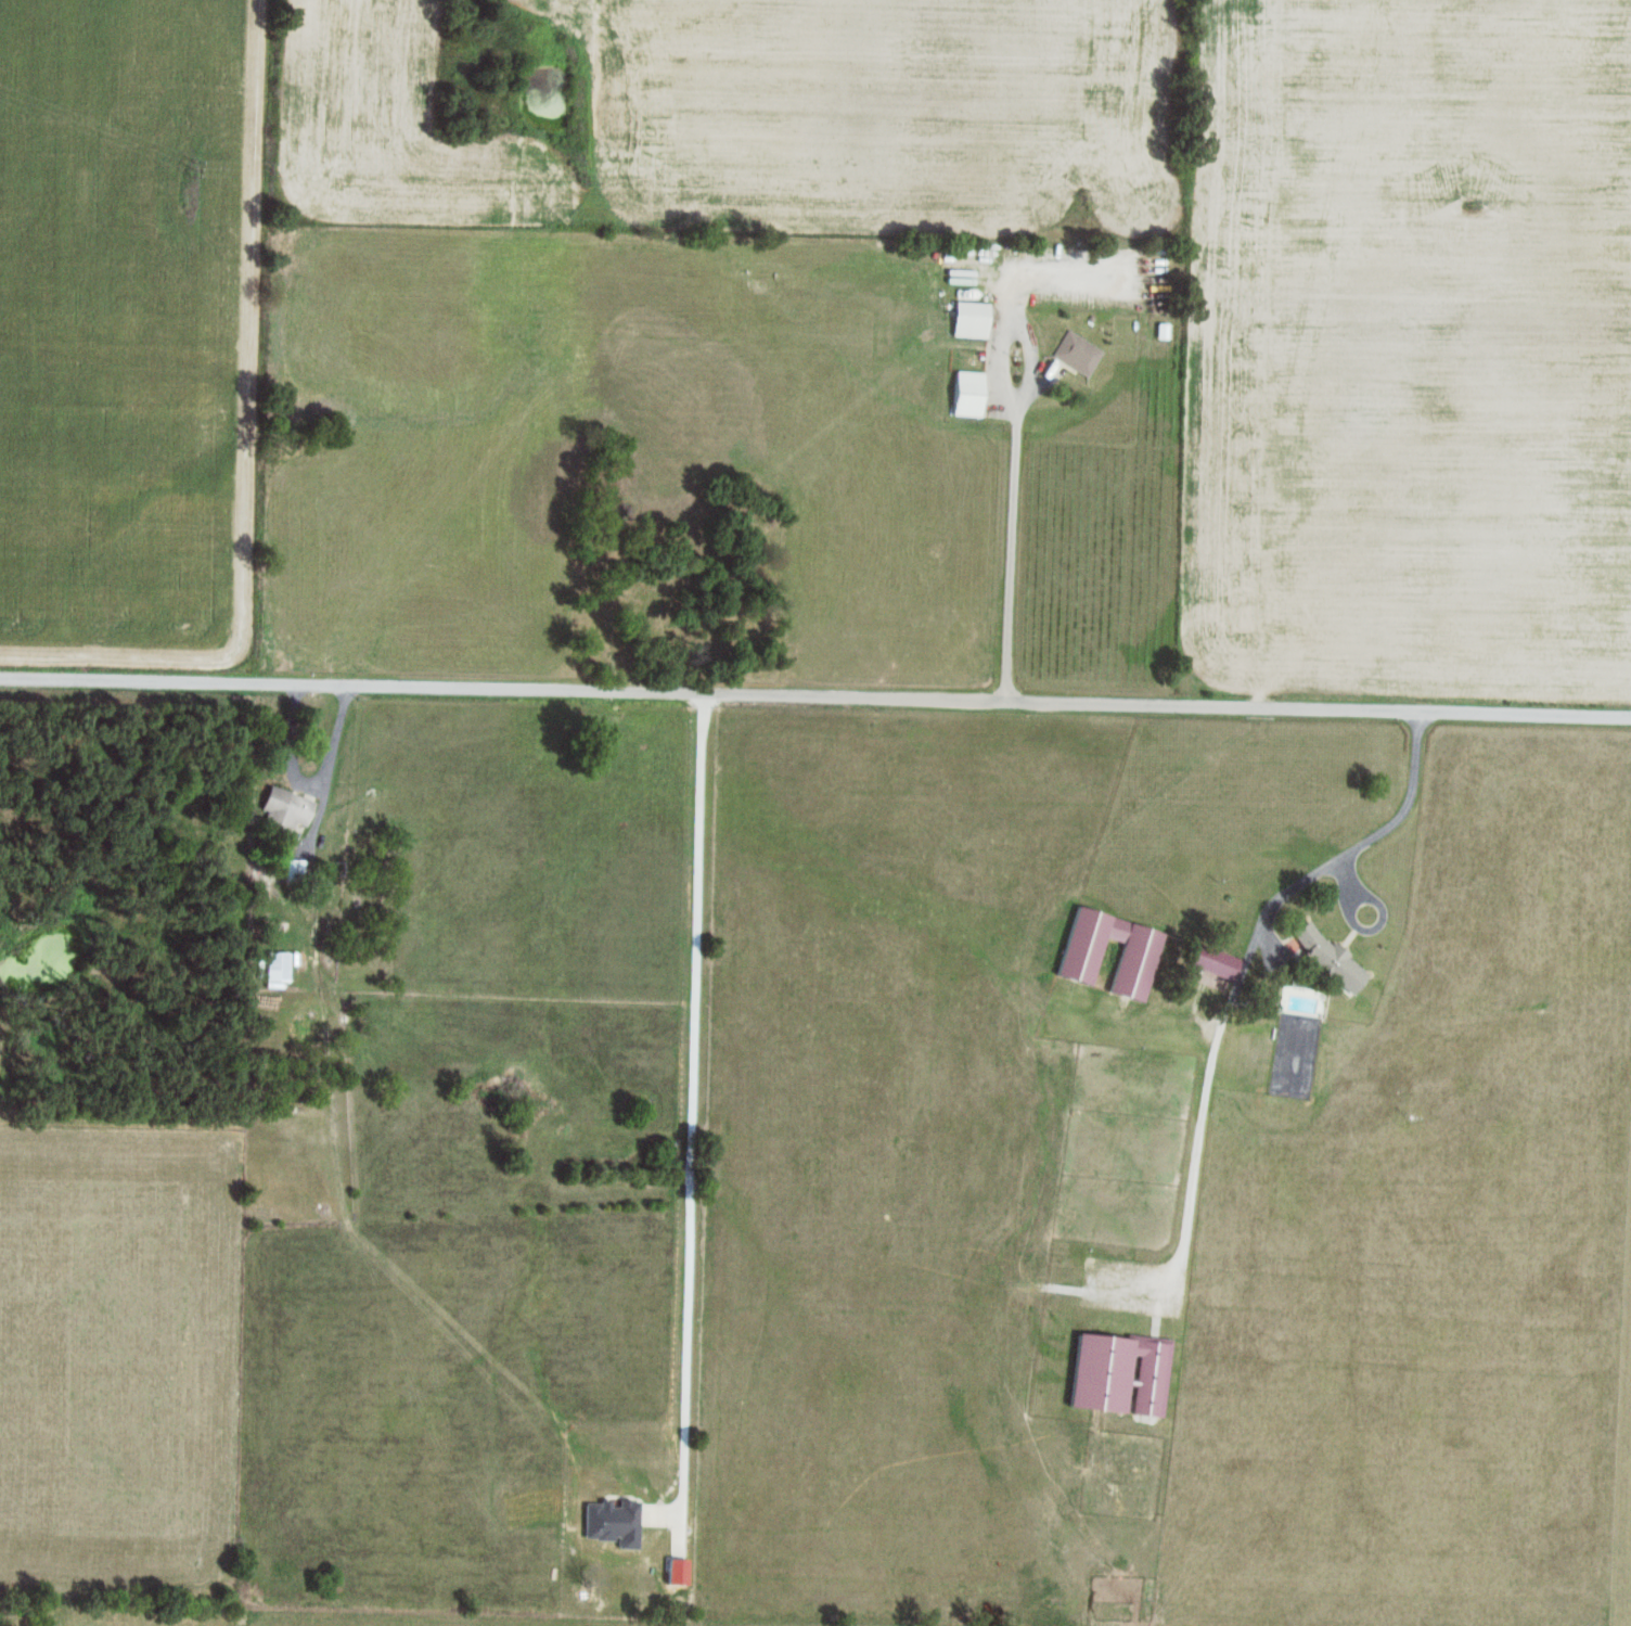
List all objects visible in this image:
power tower: (188, 169)
power tower: (581, 178)
power tower: (1080, 193)
power tower: (1475, 207)
building: (967, 320)
building: (1075, 353)
building: (965, 394)
road: (1011, 503)
road: (815, 696)
road: (296, 748)
building: (282, 811)
road: (1357, 849)
building: (292, 869)
road: (314, 948)
building: (1324, 958)
building: (1134, 959)
building: (1211, 962)
building: (274, 968)
building: (1101, 968)
building: (1117, 1374)

